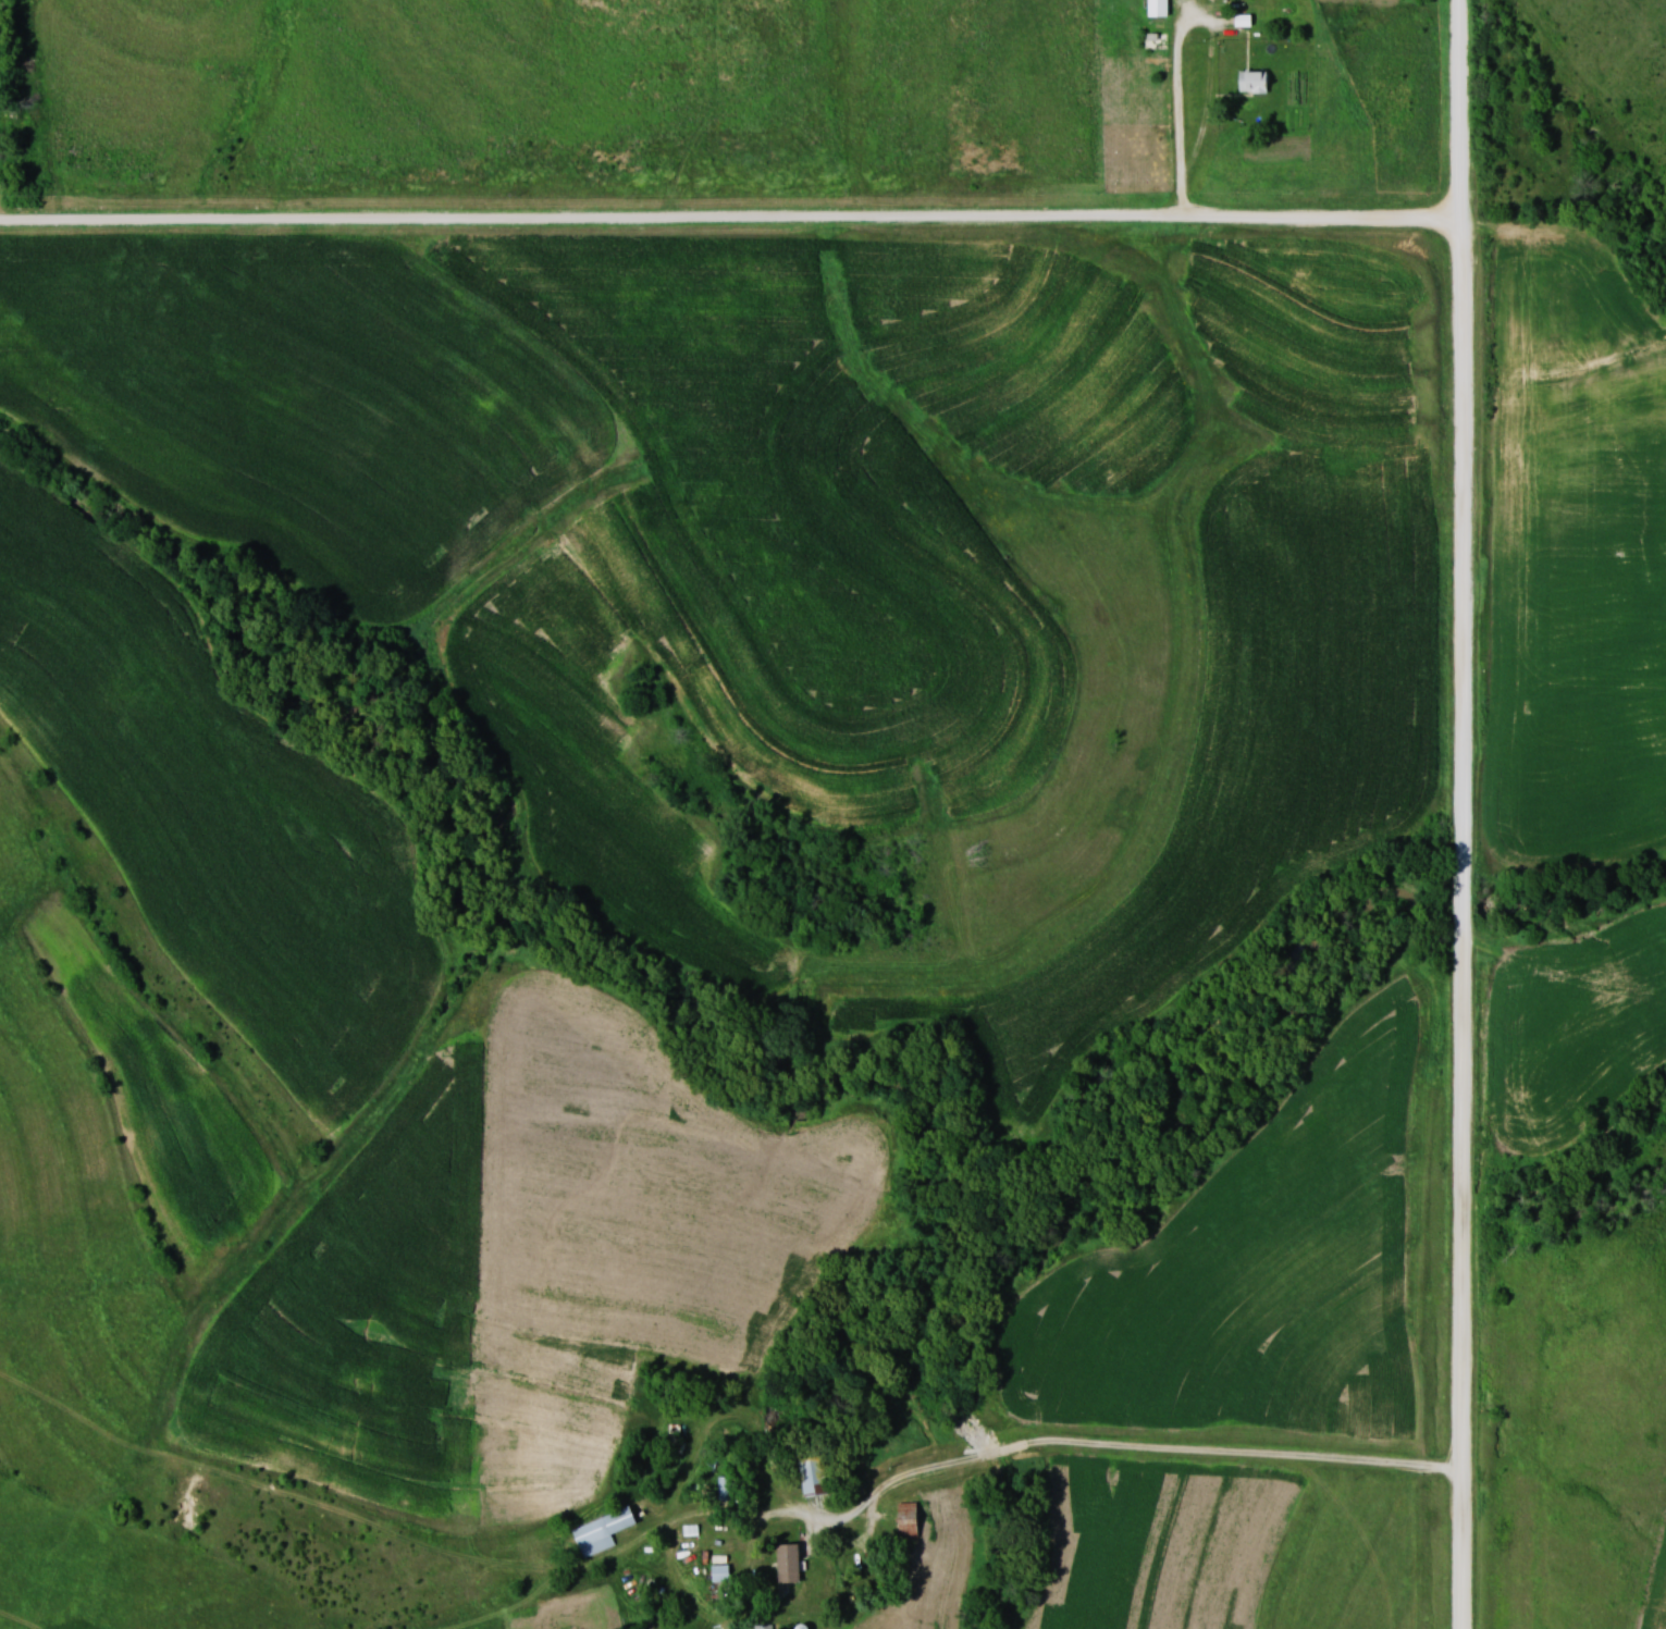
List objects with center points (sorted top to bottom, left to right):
building: (1160, 8)
road: (1184, 18)
building: (1245, 20)
building: (1158, 40)
building: (1255, 81)
road: (1184, 197)
road: (731, 218)
road: (1463, 814)
road: (1165, 1448)
building: (816, 1474)
road: (842, 1517)
building: (910, 1520)
building: (603, 1531)
building: (790, 1563)
building: (764, 1627)

